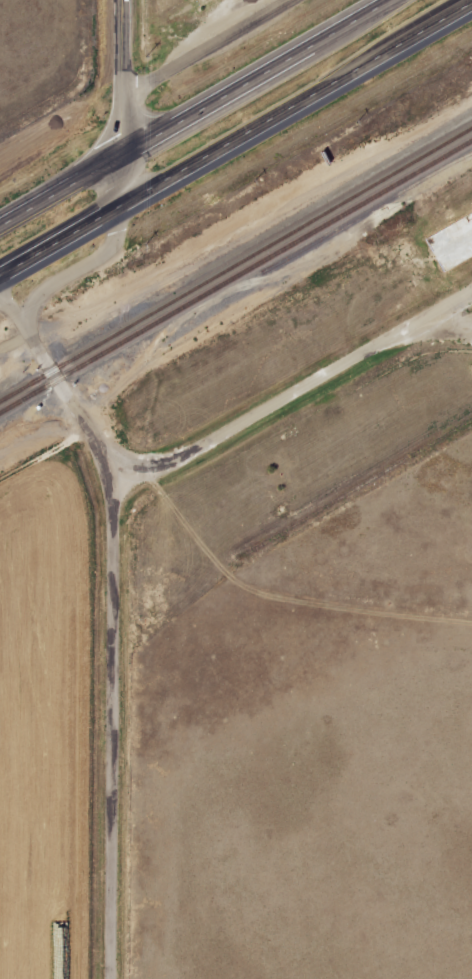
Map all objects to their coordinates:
road: (205, 48)
road: (125, 101)
road: (195, 113)
road: (235, 138)
railway: (366, 211)
railway: (236, 265)
road: (82, 266)
railway: (236, 278)
road: (42, 355)
railway: (356, 485)
road: (114, 699)

